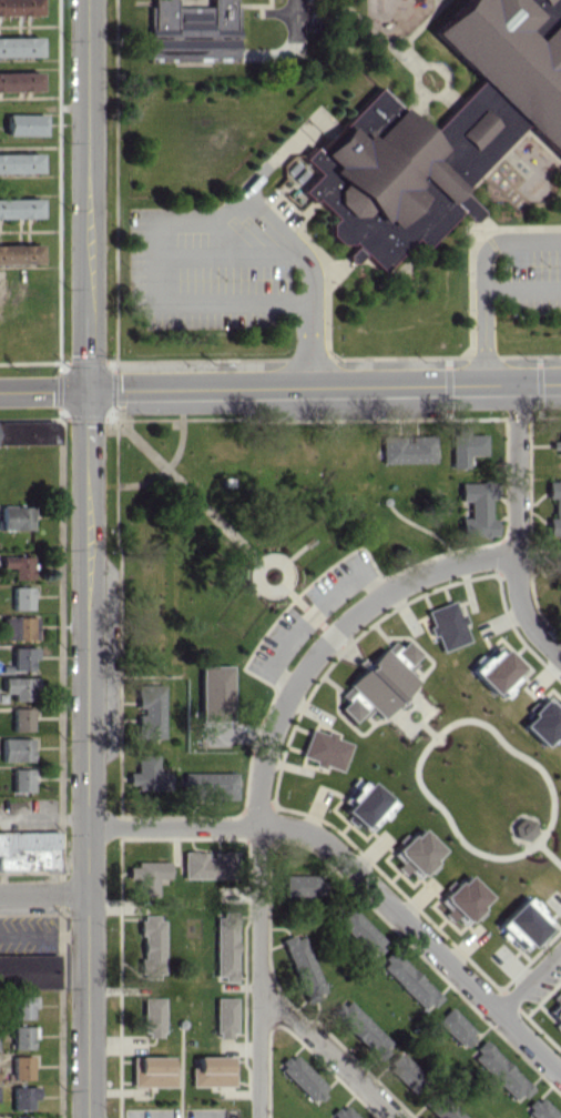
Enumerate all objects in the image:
building: (542, 1)
building: (18, 7)
road: (295, 19)
building: (191, 31)
building: (19, 46)
building: (509, 60)
building: (18, 81)
building: (23, 124)
building: (19, 162)
building: (397, 174)
road: (85, 195)
building: (18, 208)
road: (194, 218)
building: (18, 253)
road: (477, 276)
road: (323, 389)
road: (43, 391)
traffic signals: (86, 392)
building: (28, 432)
building: (555, 443)
building: (463, 446)
building: (406, 449)
road: (516, 473)
building: (554, 506)
building: (476, 507)
building: (14, 516)
road: (451, 565)
building: (17, 566)
building: (20, 597)
building: (560, 611)
road: (524, 613)
building: (447, 625)
building: (19, 627)
building: (22, 657)
building: (497, 671)
building: (379, 682)
building: (19, 687)
building: (214, 693)
building: (149, 711)
building: (20, 718)
building: (543, 722)
building: (14, 749)
building: (325, 749)
road: (86, 755)
building: (145, 774)
building: (20, 779)
building: (210, 784)
building: (365, 804)
road: (175, 822)
building: (28, 850)
building: (418, 850)
road: (262, 853)
building: (204, 864)
building: (145, 876)
building: (302, 885)
road: (43, 890)
building: (465, 898)
building: (523, 924)
building: (359, 931)
road: (420, 936)
building: (151, 946)
building: (225, 946)
building: (303, 965)
building: (28, 969)
building: (409, 980)
road: (531, 986)
building: (22, 1006)
building: (557, 1013)
building: (151, 1017)
building: (224, 1017)
building: (359, 1026)
building: (455, 1027)
building: (22, 1037)
road: (327, 1052)
building: (21, 1067)
building: (404, 1069)
building: (212, 1070)
building: (499, 1070)
building: (151, 1071)
building: (303, 1077)
building: (22, 1096)
building: (541, 1109)
building: (343, 1112)
building: (21, 1117)

